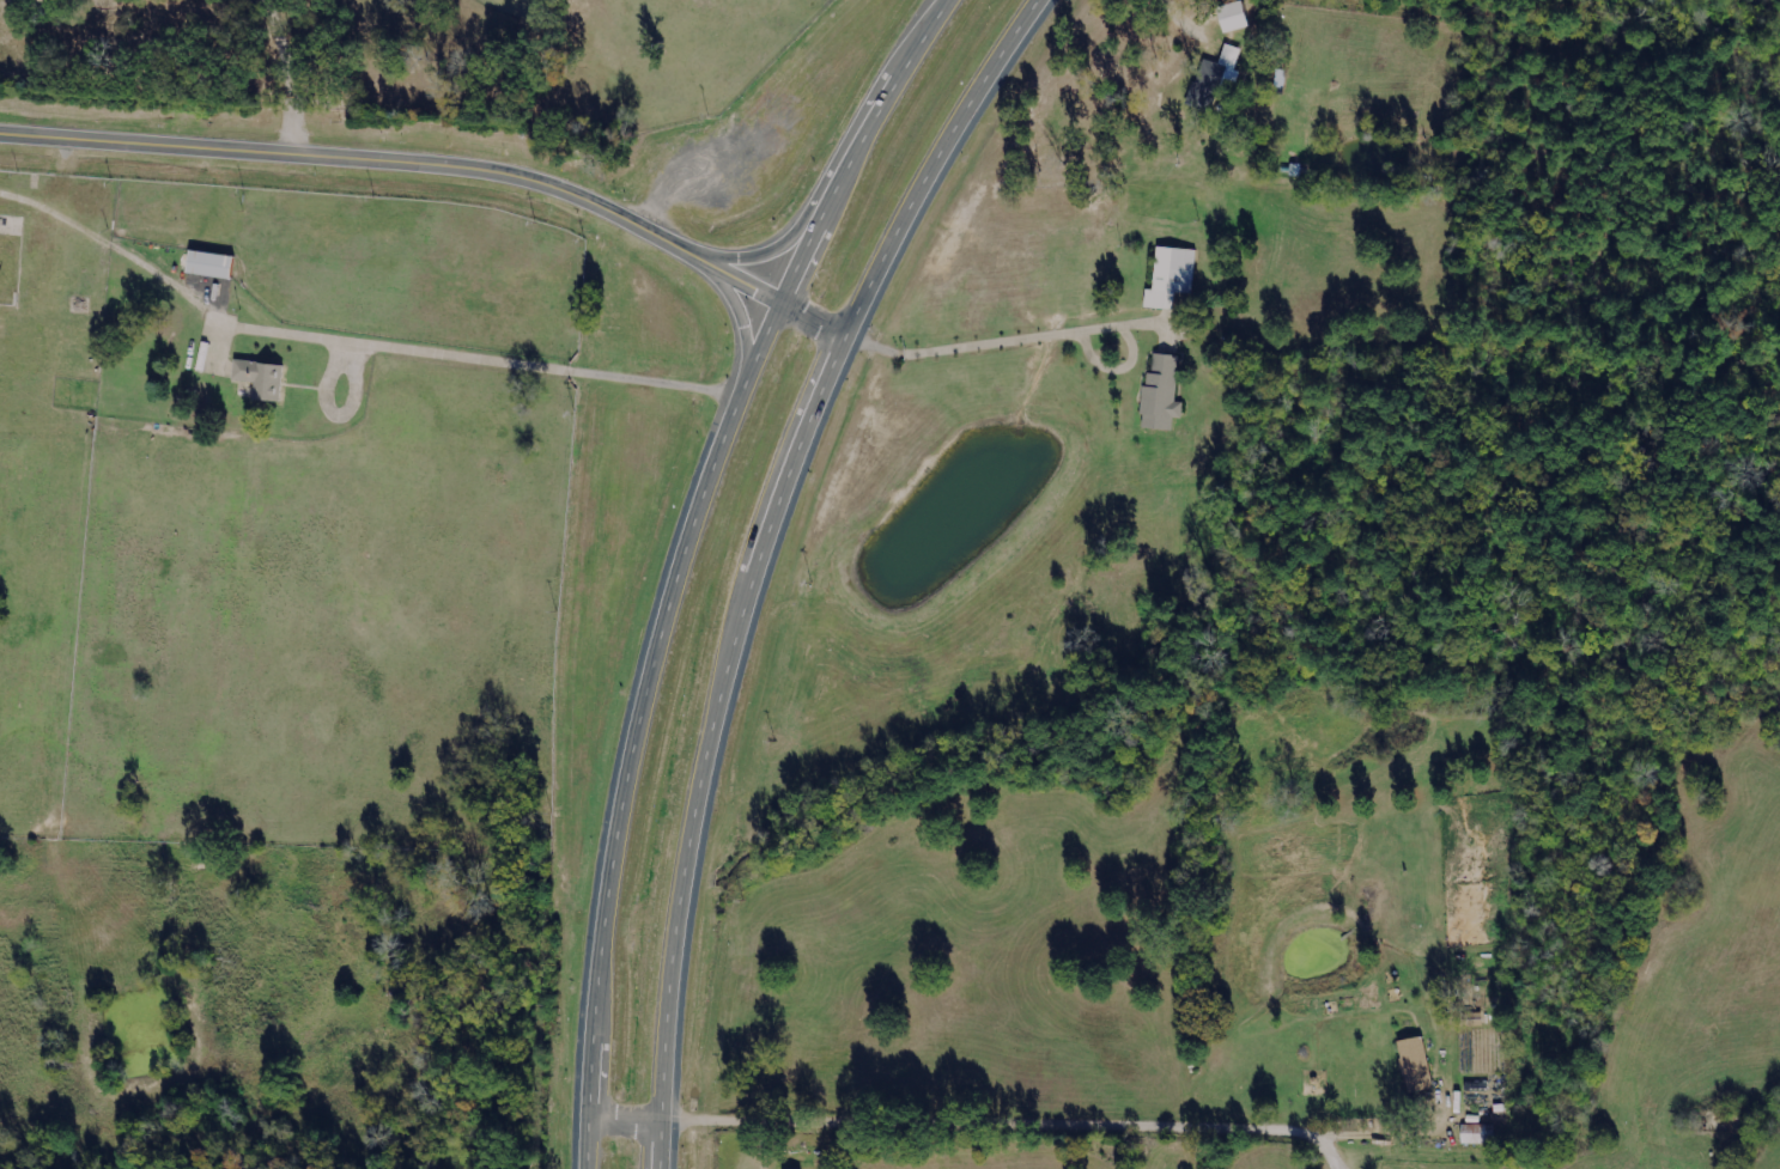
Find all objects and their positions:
road: (1178, 16)
building: (1239, 17)
road: (286, 77)
building: (1210, 81)
road: (439, 169)
road: (47, 202)
building: (10, 266)
building: (206, 268)
building: (1167, 280)
building: (74, 309)
road: (1034, 333)
road: (402, 345)
building: (257, 383)
building: (1158, 396)
road: (755, 554)
road: (682, 558)
building: (1411, 1067)
road: (984, 1113)
building: (1474, 1138)

